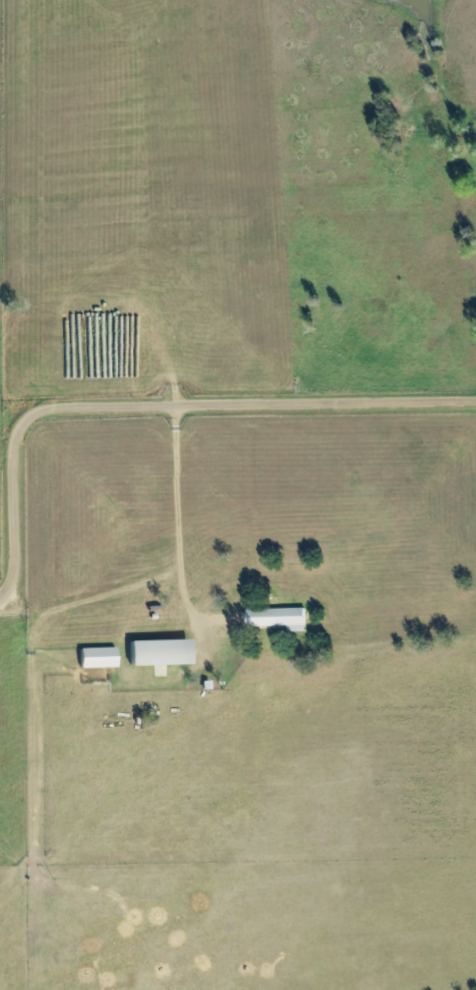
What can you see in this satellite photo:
road: (173, 369)
road: (156, 407)
road: (426, 490)
building: (280, 618)
building: (162, 653)
building: (100, 658)

